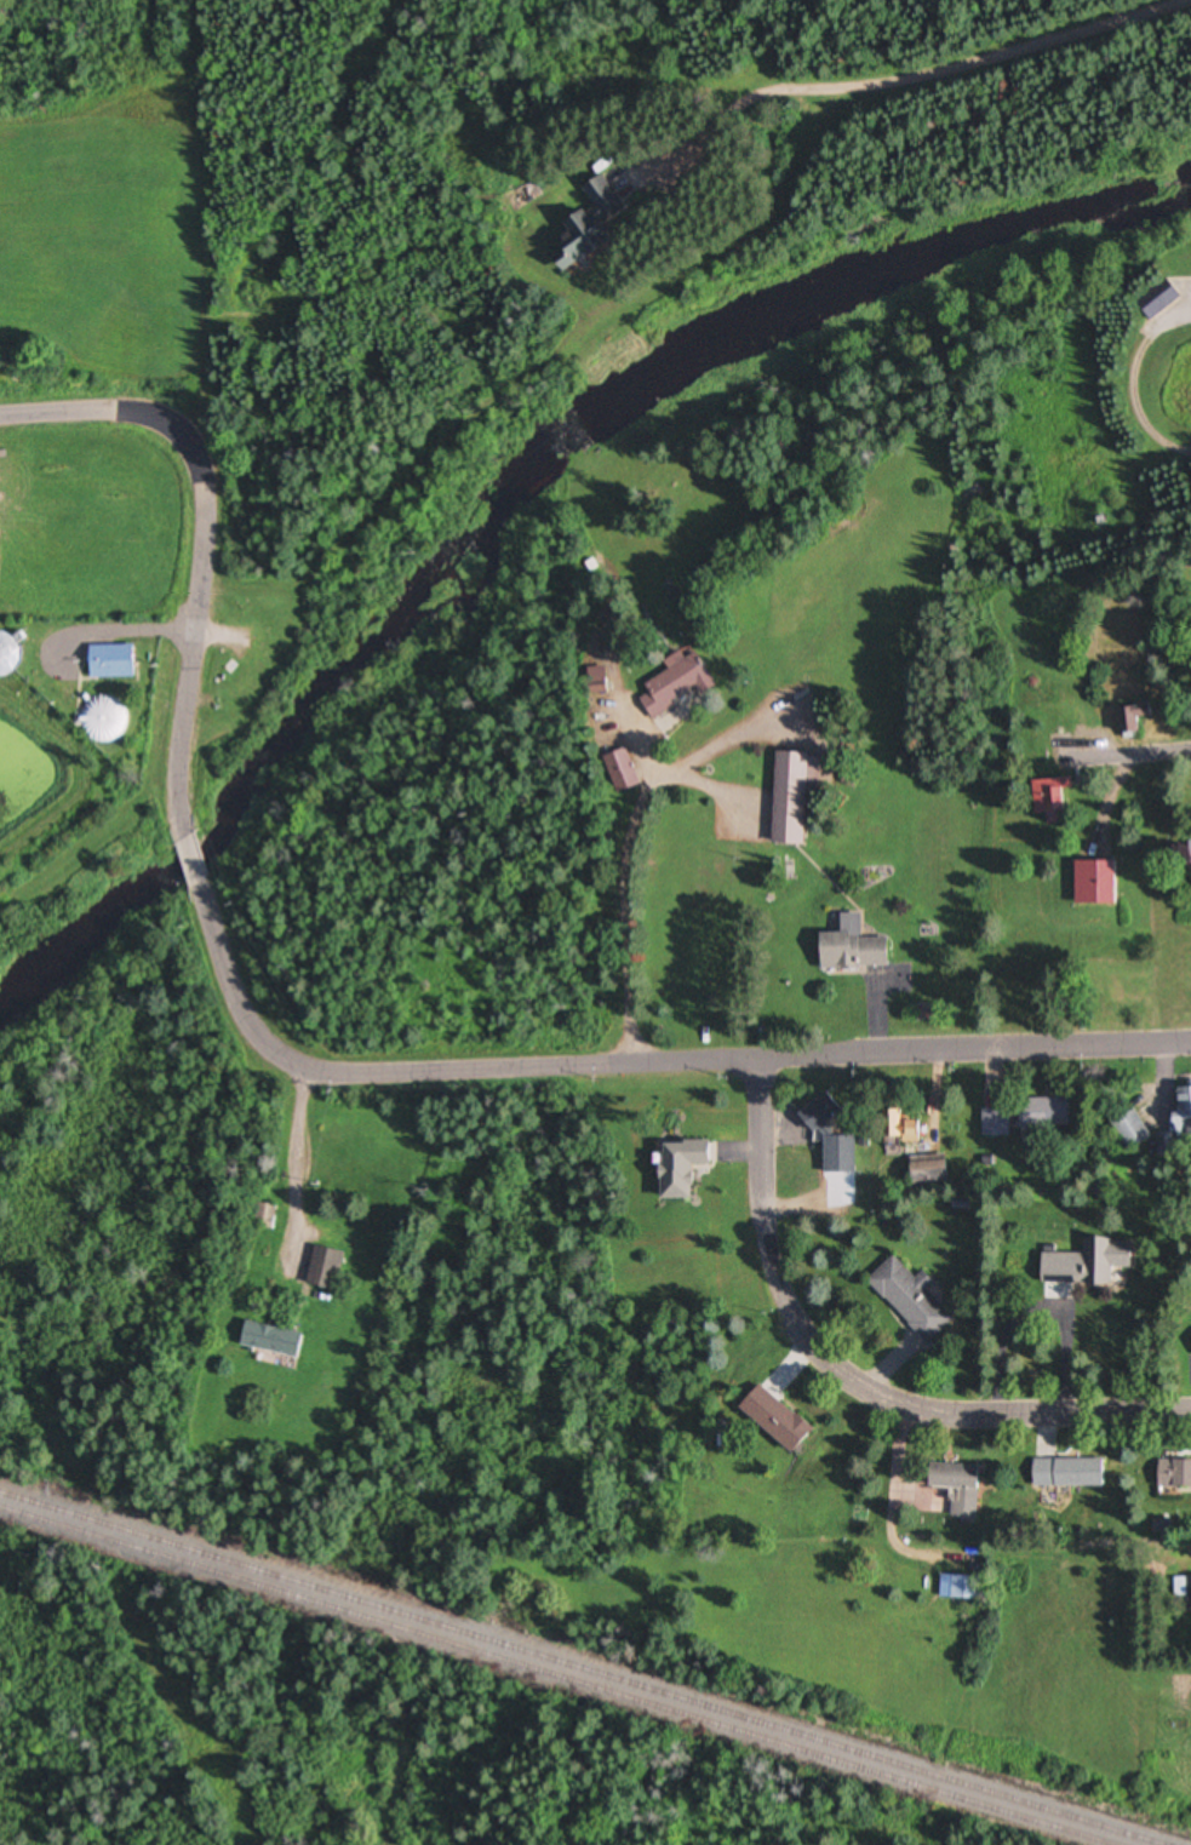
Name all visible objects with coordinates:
road: (1103, 34)
building: (599, 242)
building: (1152, 297)
river: (791, 319)
road: (1181, 320)
road: (108, 408)
road: (196, 640)
building: (11, 654)
building: (120, 661)
river: (347, 664)
building: (671, 683)
building: (592, 694)
building: (1130, 720)
building: (113, 721)
building: (1057, 721)
road: (1139, 749)
building: (617, 769)
building: (786, 796)
building: (1048, 801)
building: (1189, 854)
road: (194, 861)
river: (133, 896)
road: (212, 929)
road: (612, 934)
building: (847, 947)
road: (681, 1067)
building: (1040, 1112)
building: (1178, 1113)
building: (992, 1123)
building: (898, 1128)
building: (1127, 1129)
building: (836, 1154)
building: (677, 1165)
building: (924, 1171)
building: (273, 1217)
road: (766, 1250)
building: (1084, 1264)
building: (333, 1268)
building: (907, 1299)
building: (281, 1341)
building: (1190, 1341)
road: (1027, 1416)
building: (769, 1419)
building: (1061, 1473)
building: (1172, 1474)
building: (950, 1483)
building: (951, 1587)
building: (1181, 1591)
railway: (582, 1668)
railway: (554, 1677)

